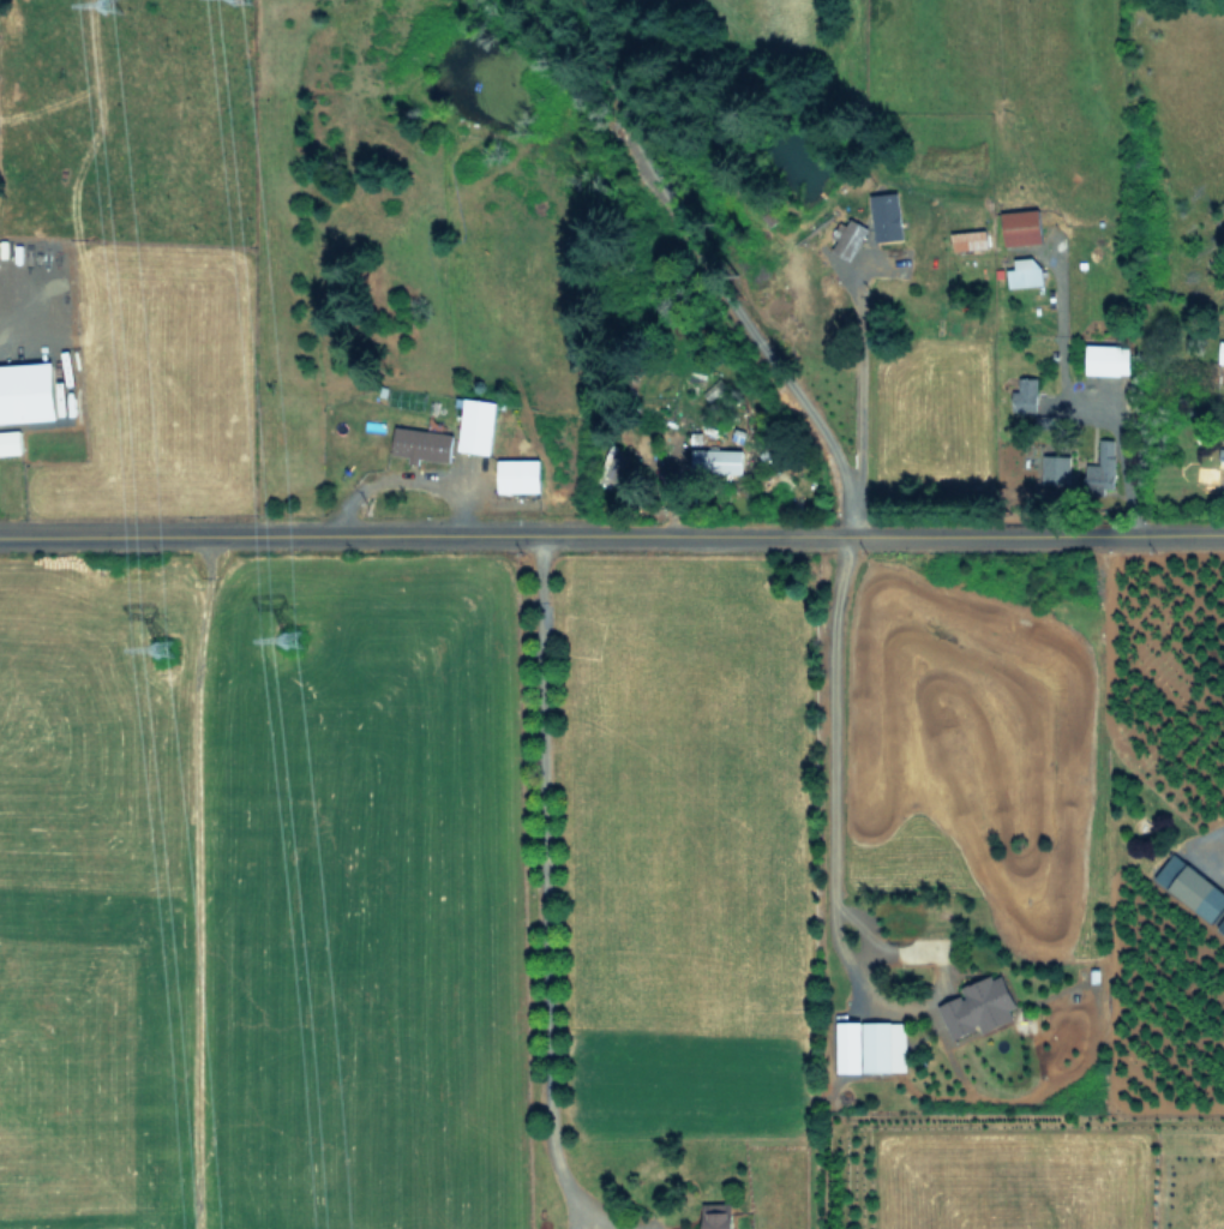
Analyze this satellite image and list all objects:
power tower: (251, 0)
power tower: (120, 4)
building: (887, 215)
building: (1022, 226)
building: (852, 238)
building: (970, 239)
building: (1025, 271)
road: (697, 274)
building: (1220, 352)
building: (1108, 359)
road: (856, 378)
building: (28, 391)
building: (1026, 394)
building: (478, 425)
building: (10, 442)
building: (421, 444)
road: (1117, 456)
building: (716, 460)
building: (612, 466)
building: (1103, 467)
building: (1057, 468)
building: (518, 474)
road: (611, 528)
power tower: (302, 633)
power tower: (175, 655)
road: (1212, 841)
road: (824, 879)
building: (1193, 888)
road: (540, 900)
building: (979, 1006)
building: (886, 1045)
building: (851, 1047)
building: (718, 1215)

